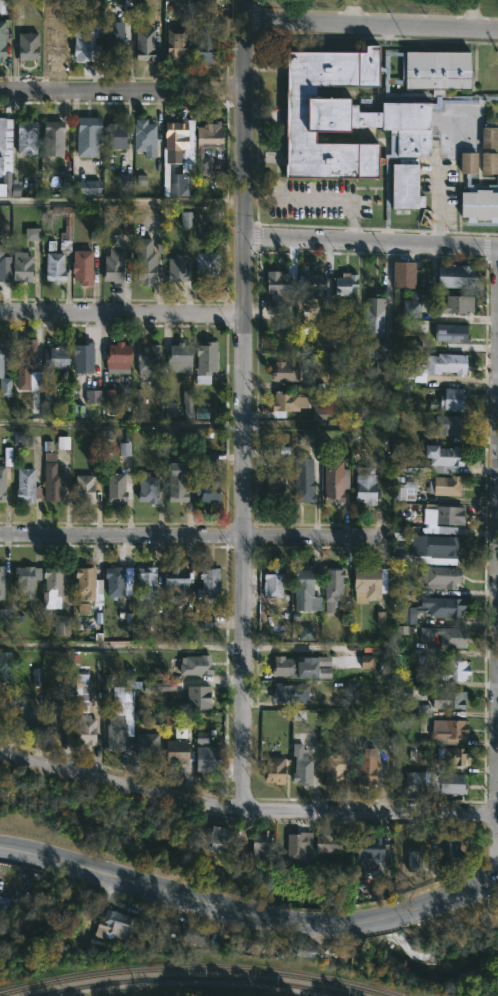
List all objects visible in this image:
building: (4, 6)
building: (1, 28)
road: (370, 30)
building: (83, 40)
building: (203, 41)
building: (55, 42)
building: (174, 42)
building: (143, 44)
building: (26, 45)
building: (114, 49)
building: (0, 50)
road: (122, 99)
building: (366, 115)
road: (245, 118)
building: (84, 135)
building: (115, 136)
building: (490, 136)
building: (24, 137)
building: (144, 137)
building: (49, 138)
building: (204, 145)
building: (6, 160)
building: (175, 160)
building: (469, 163)
building: (490, 163)
building: (124, 182)
building: (85, 187)
road: (122, 200)
road: (333, 201)
building: (480, 203)
building: (185, 219)
building: (62, 227)
building: (31, 233)
road: (371, 241)
building: (145, 260)
building: (4, 264)
building: (111, 265)
building: (21, 266)
building: (80, 266)
building: (51, 268)
building: (174, 268)
building: (204, 269)
building: (404, 275)
building: (452, 276)
building: (311, 283)
building: (343, 283)
building: (278, 292)
building: (455, 304)
building: (411, 308)
road: (123, 312)
building: (373, 316)
building: (451, 333)
building: (343, 334)
building: (380, 350)
building: (23, 356)
building: (53, 357)
building: (82, 357)
building: (117, 358)
building: (176, 358)
building: (147, 360)
building: (202, 362)
building: (430, 367)
building: (384, 371)
building: (282, 372)
building: (4, 387)
building: (93, 391)
building: (136, 394)
building: (112, 398)
building: (186, 398)
building: (449, 400)
building: (286, 403)
road: (122, 423)
building: (447, 425)
building: (315, 441)
building: (62, 442)
building: (124, 449)
building: (207, 460)
building: (433, 461)
building: (49, 478)
building: (301, 480)
building: (176, 482)
building: (333, 482)
building: (1, 485)
building: (22, 485)
building: (363, 486)
building: (444, 486)
building: (115, 488)
building: (147, 488)
building: (272, 488)
building: (83, 489)
building: (207, 489)
building: (404, 492)
building: (447, 515)
road: (245, 522)
road: (192, 535)
building: (433, 545)
building: (0, 577)
building: (437, 577)
building: (23, 580)
building: (272, 581)
building: (111, 582)
building: (173, 582)
building: (82, 583)
building: (144, 583)
building: (366, 583)
building: (206, 585)
building: (332, 588)
building: (49, 589)
building: (304, 591)
building: (82, 608)
building: (432, 608)
building: (3, 613)
building: (61, 624)
building: (306, 633)
building: (442, 635)
road: (306, 644)
road: (122, 645)
building: (366, 661)
building: (4, 665)
building: (193, 666)
building: (304, 666)
building: (281, 667)
building: (449, 670)
building: (159, 674)
building: (36, 676)
building: (81, 693)
building: (288, 693)
building: (195, 697)
building: (446, 700)
building: (26, 713)
building: (122, 717)
building: (55, 718)
building: (157, 718)
building: (84, 729)
building: (446, 729)
building: (180, 733)
building: (201, 738)
building: (145, 743)
building: (174, 752)
building: (451, 754)
building: (205, 759)
building: (299, 766)
building: (332, 767)
building: (363, 767)
building: (272, 770)
building: (417, 777)
building: (450, 784)
road: (246, 808)
building: (216, 836)
building: (259, 845)
building: (326, 846)
building: (367, 846)
building: (298, 847)
building: (447, 847)
building: (405, 857)
building: (380, 888)
building: (3, 905)
road: (249, 911)
building: (111, 924)
building: (188, 933)
building: (245, 943)
park: (462, 951)
railway: (192, 968)
railway: (190, 977)

